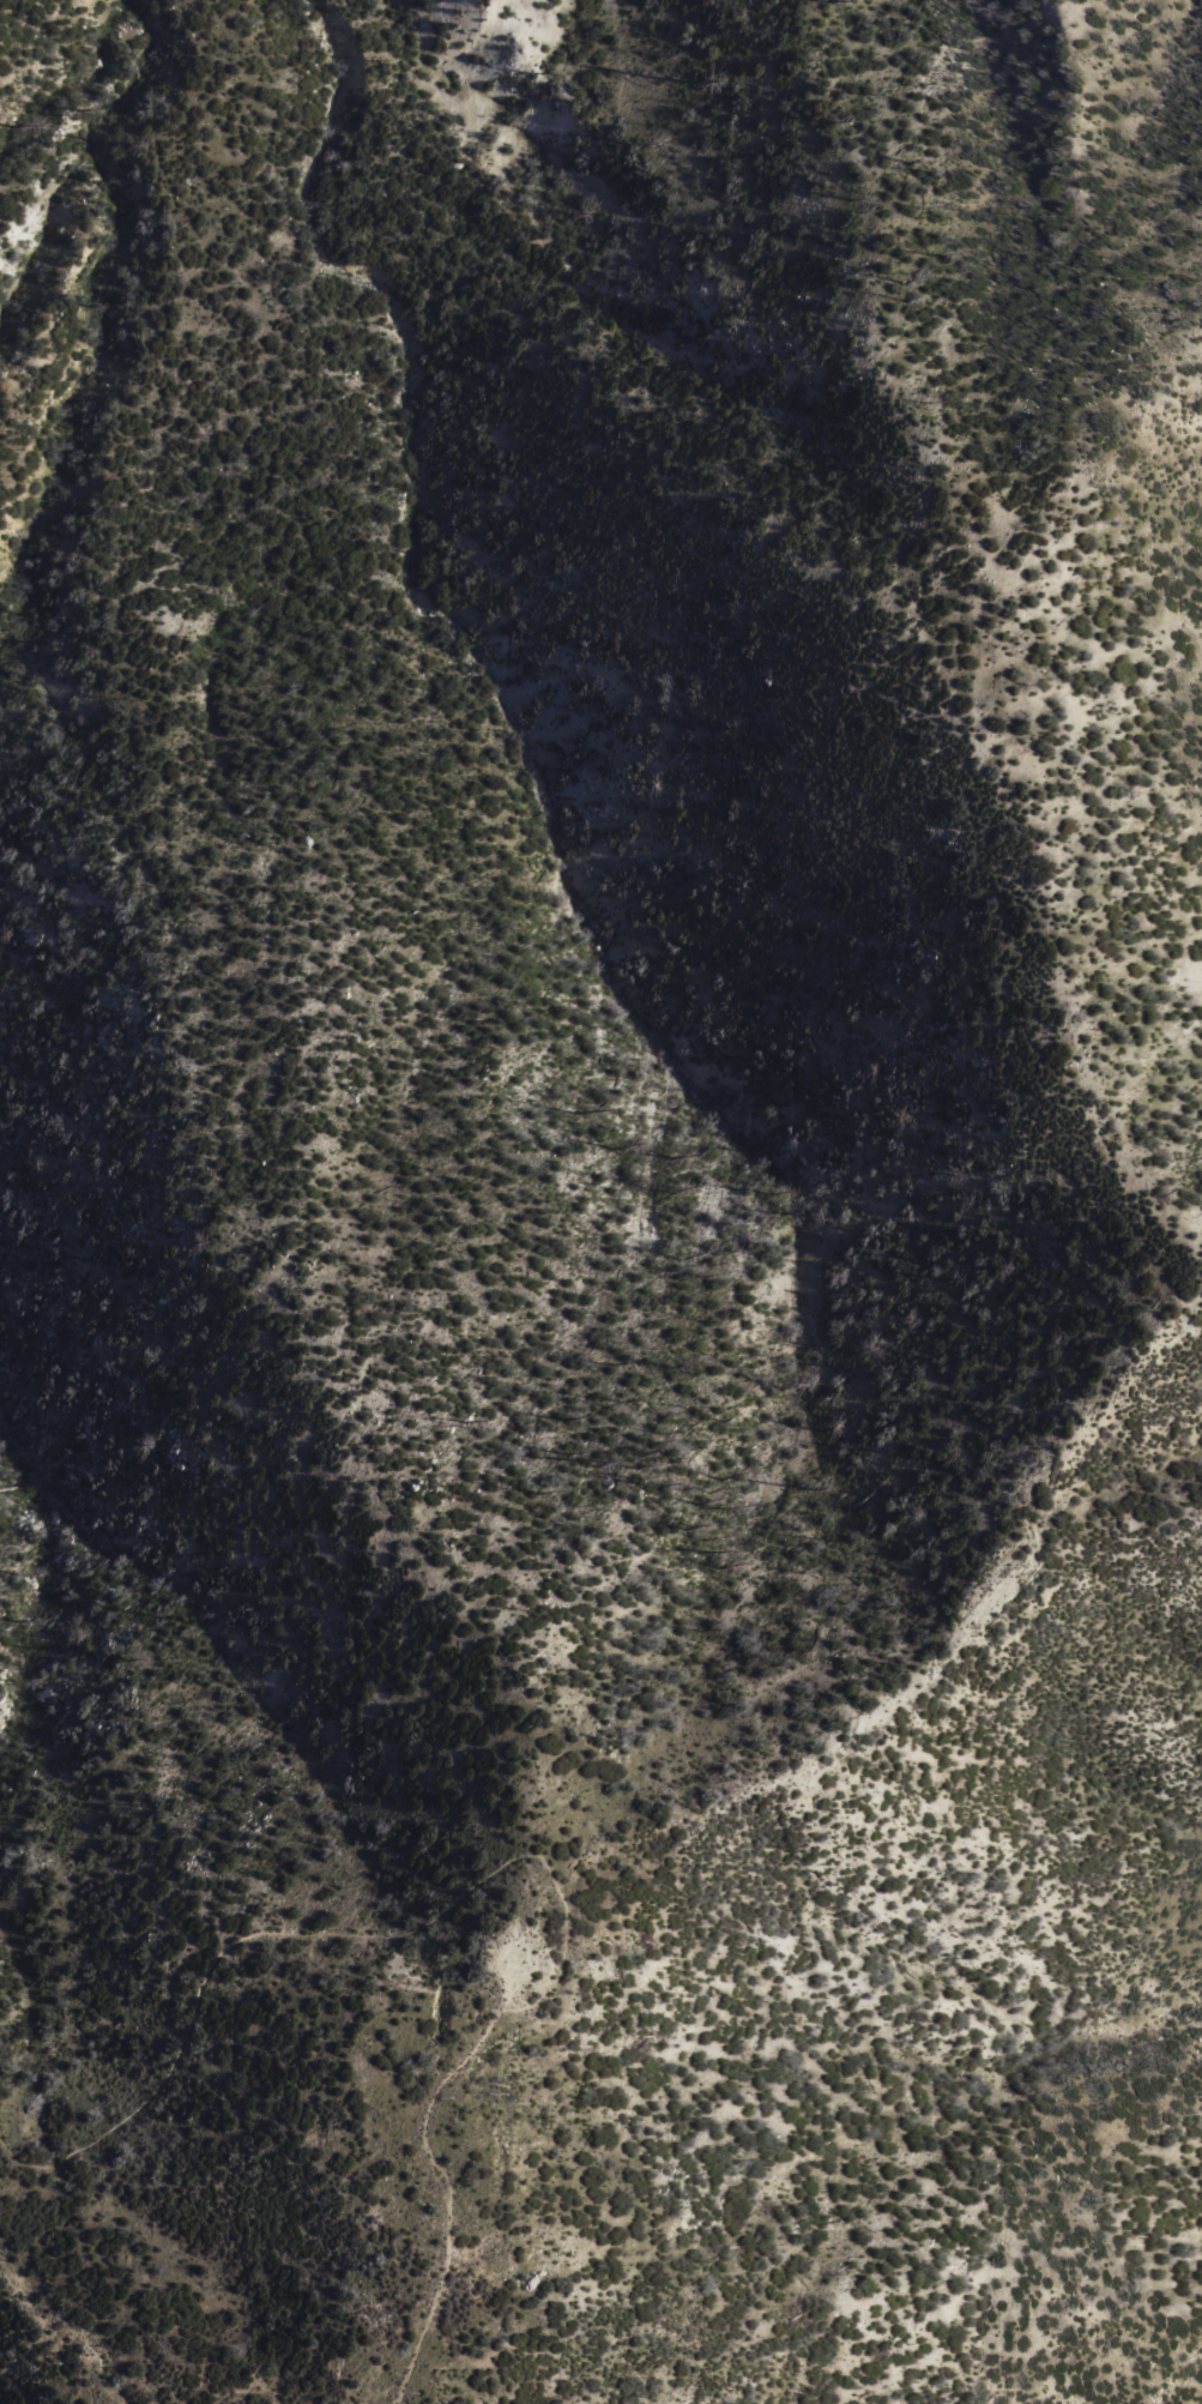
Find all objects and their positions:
road: (505, 1860)

